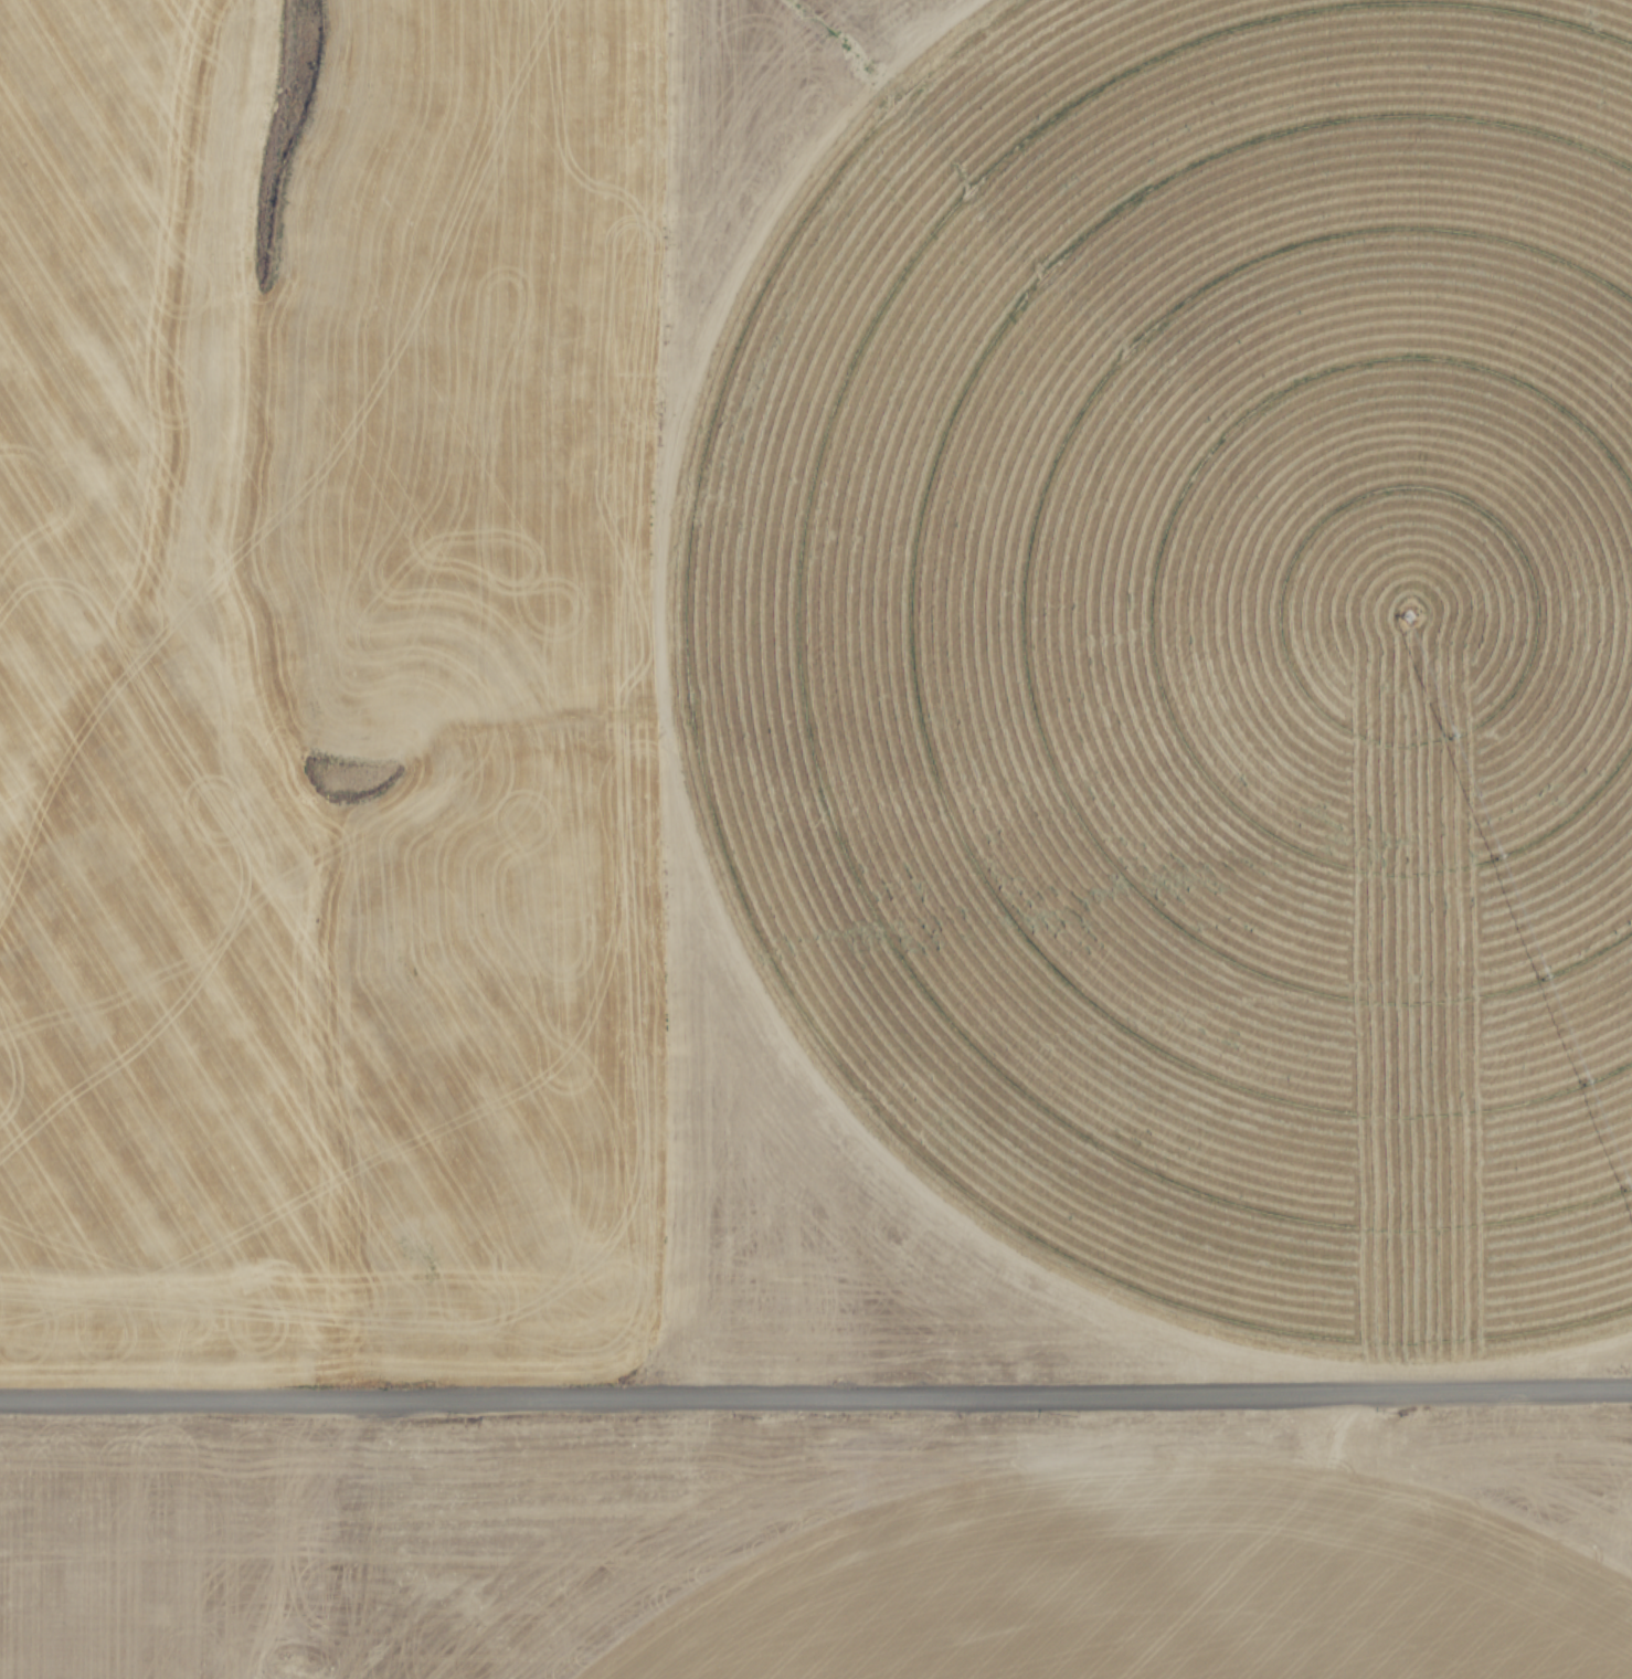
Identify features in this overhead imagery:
crop: (1205, 663)
road: (815, 1397)
crop: (1175, 1603)

